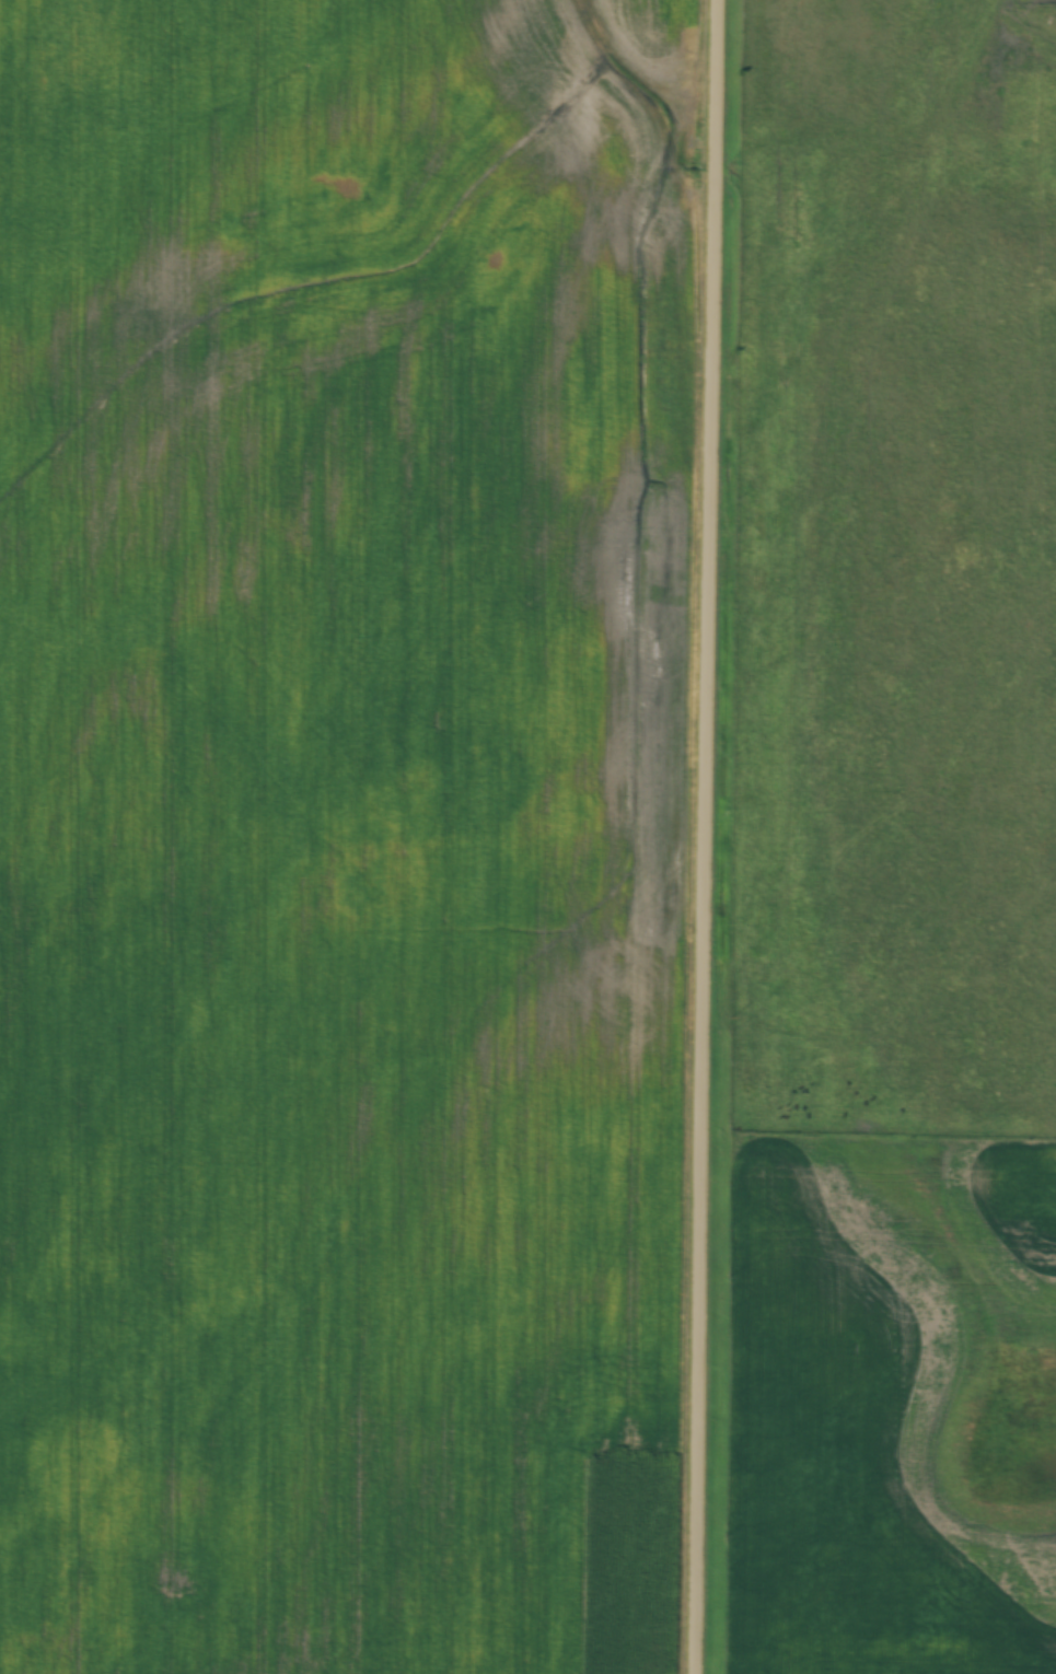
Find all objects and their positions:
road: (703, 836)

